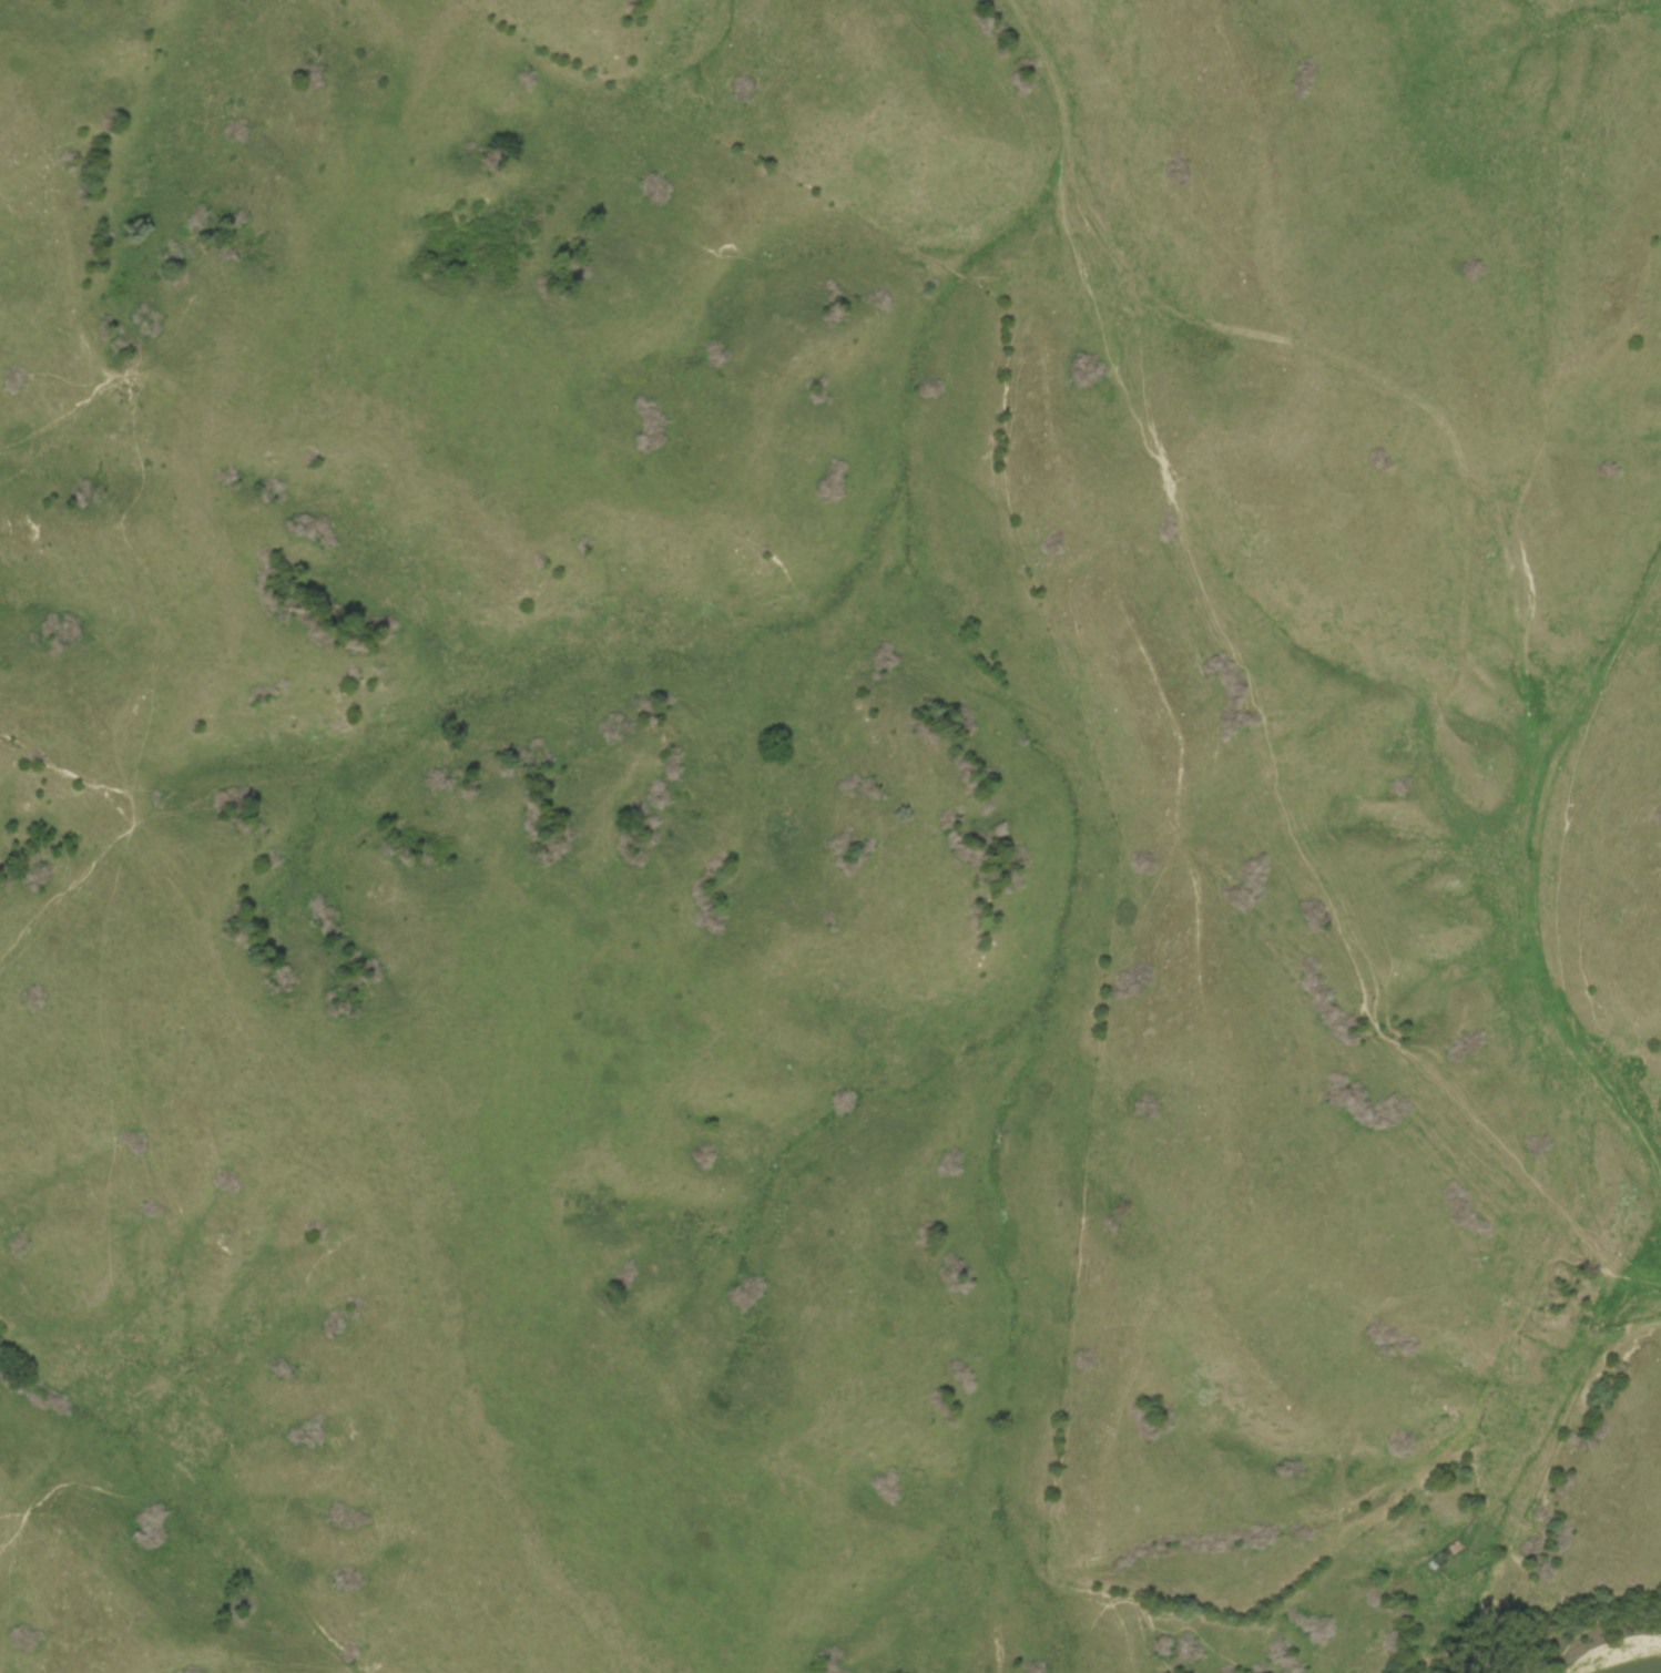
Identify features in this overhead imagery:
building: (1434, 1560)

